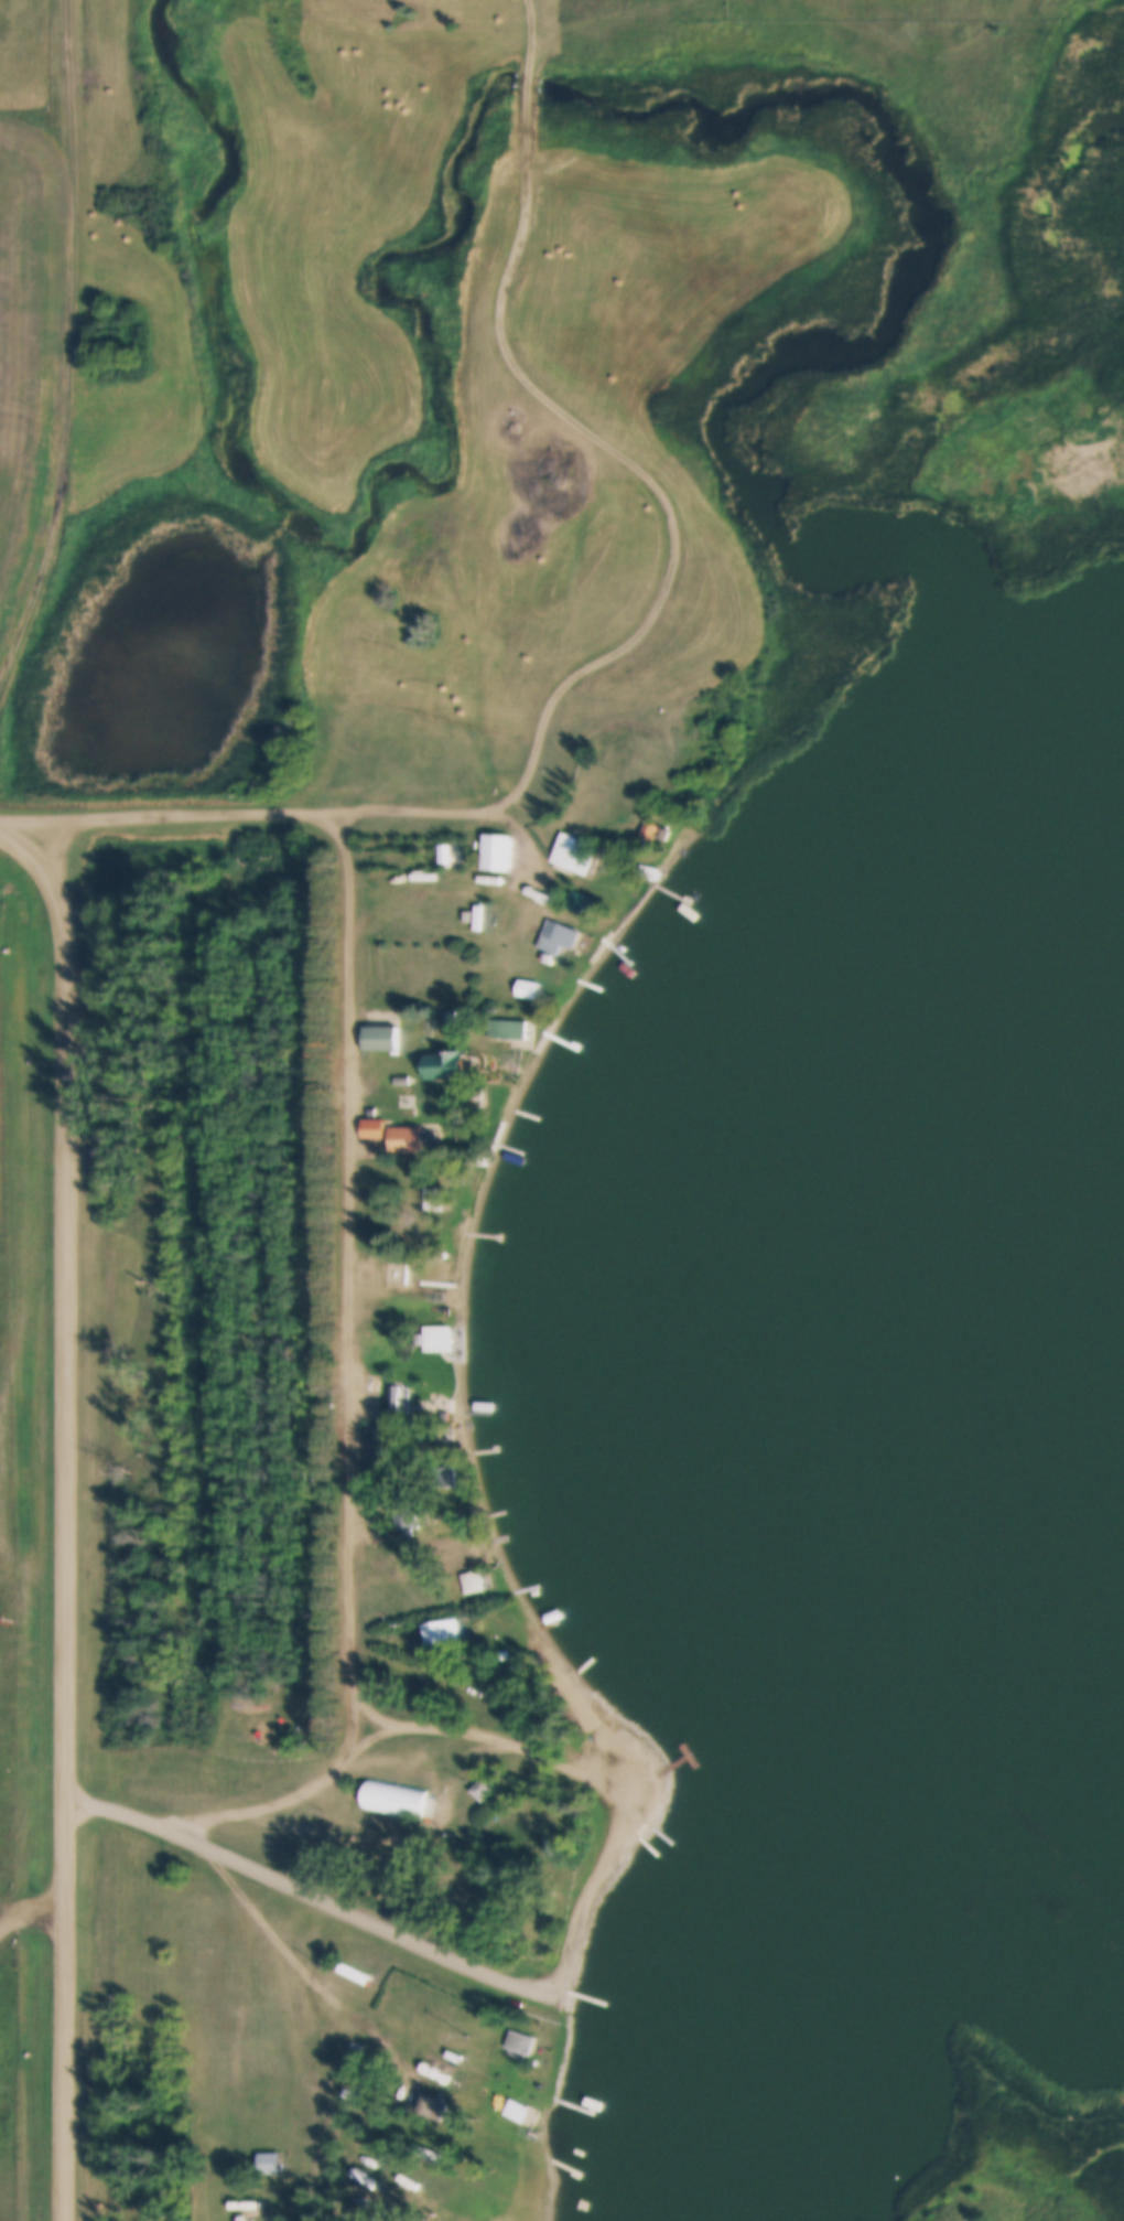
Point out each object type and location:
road: (63, 343)
road: (606, 442)
building: (556, 447)
road: (251, 813)
road: (29, 817)
building: (496, 840)
building: (572, 843)
building: (441, 845)
building: (646, 863)
building: (579, 892)
building: (466, 906)
building: (555, 929)
building: (526, 978)
building: (527, 990)
building: (448, 1005)
building: (506, 1019)
building: (381, 1023)
building: (506, 1029)
building: (376, 1038)
building: (445, 1052)
building: (400, 1067)
building: (472, 1084)
building: (375, 1112)
building: (406, 1126)
building: (401, 1141)
building: (414, 1162)
building: (431, 1188)
building: (393, 1259)
building: (435, 1329)
building: (401, 1384)
building: (393, 1391)
road: (349, 1393)
building: (383, 1417)
building: (429, 1429)
building: (439, 1469)
building: (406, 1504)
road: (68, 1519)
building: (432, 1573)
building: (472, 1573)
building: (471, 1582)
building: (527, 1621)
building: (440, 1622)
building: (502, 1645)
road: (432, 1670)
road: (375, 1710)
road: (435, 1717)
road: (592, 1767)
building: (482, 1777)
building: (483, 1788)
building: (392, 1790)
road: (105, 1806)
road: (364, 1831)
road: (354, 1916)
road: (272, 1929)
building: (354, 1963)
building: (354, 1975)
building: (519, 2032)
building: (343, 2051)
building: (350, 2073)
building: (344, 2084)
building: (511, 2100)
building: (430, 2103)
building: (517, 2113)
building: (512, 2149)
building: (268, 2154)
building: (271, 2165)

